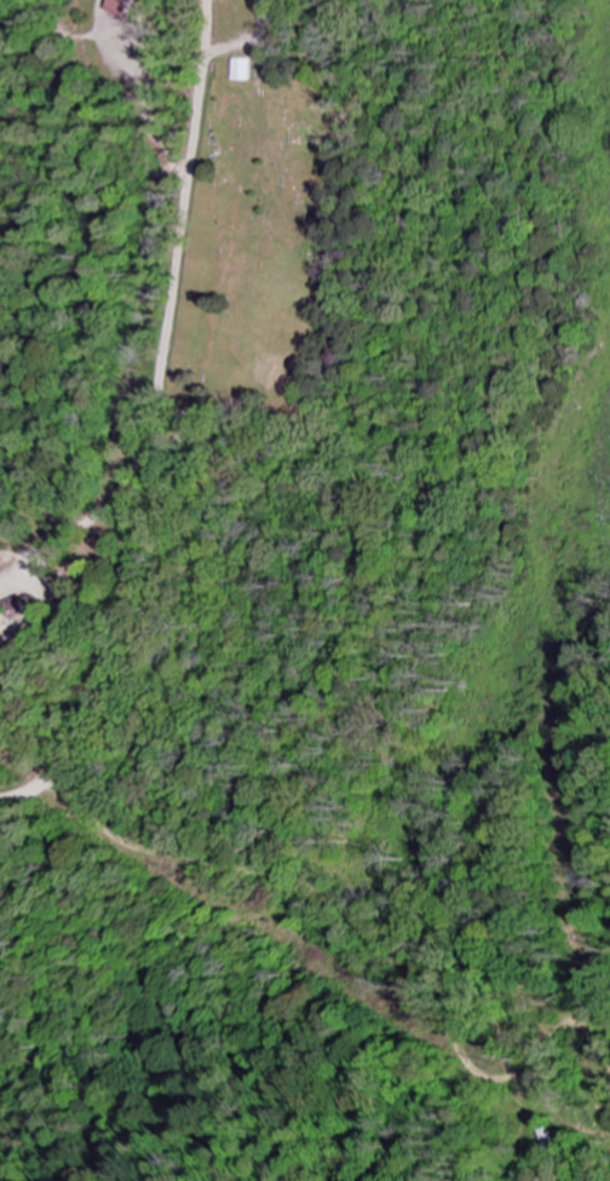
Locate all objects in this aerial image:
building: (123, 7)
building: (243, 69)
road: (160, 422)
road: (145, 891)
road: (149, 1010)

